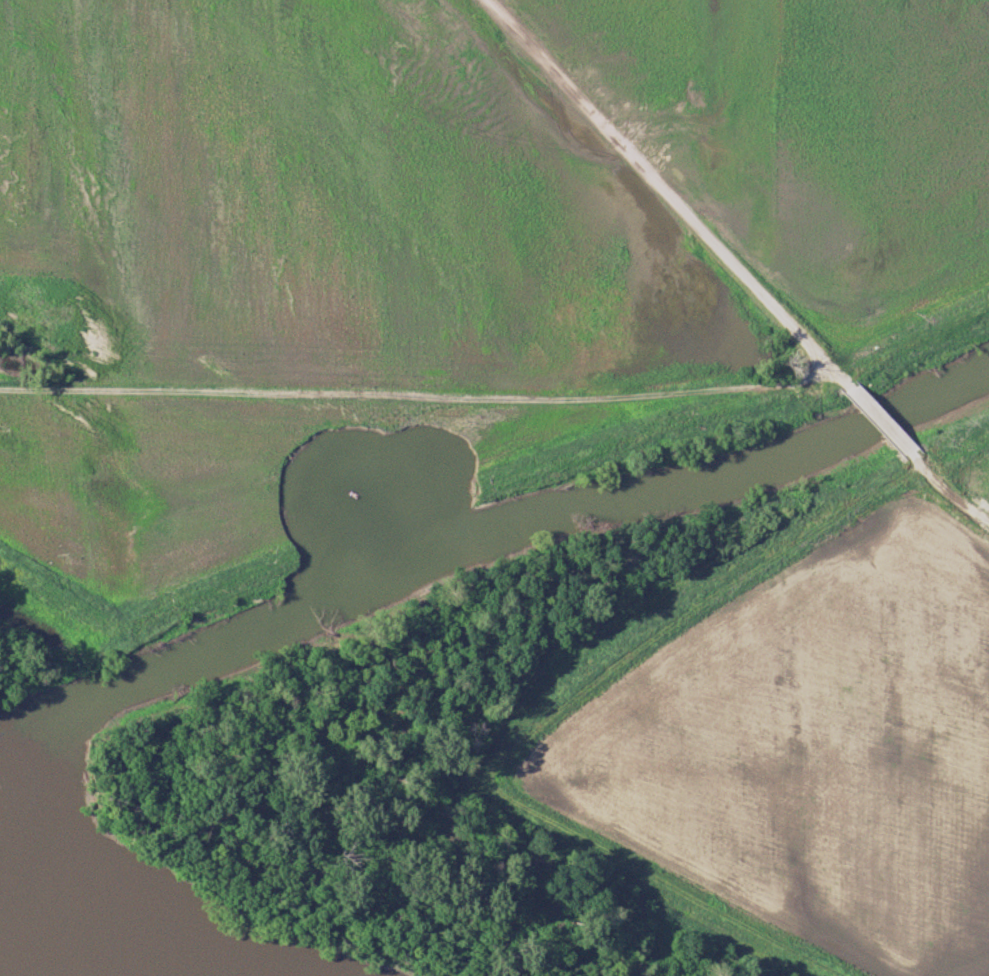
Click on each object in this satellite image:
road: (663, 186)
road: (870, 412)
road: (943, 488)
river: (485, 532)

